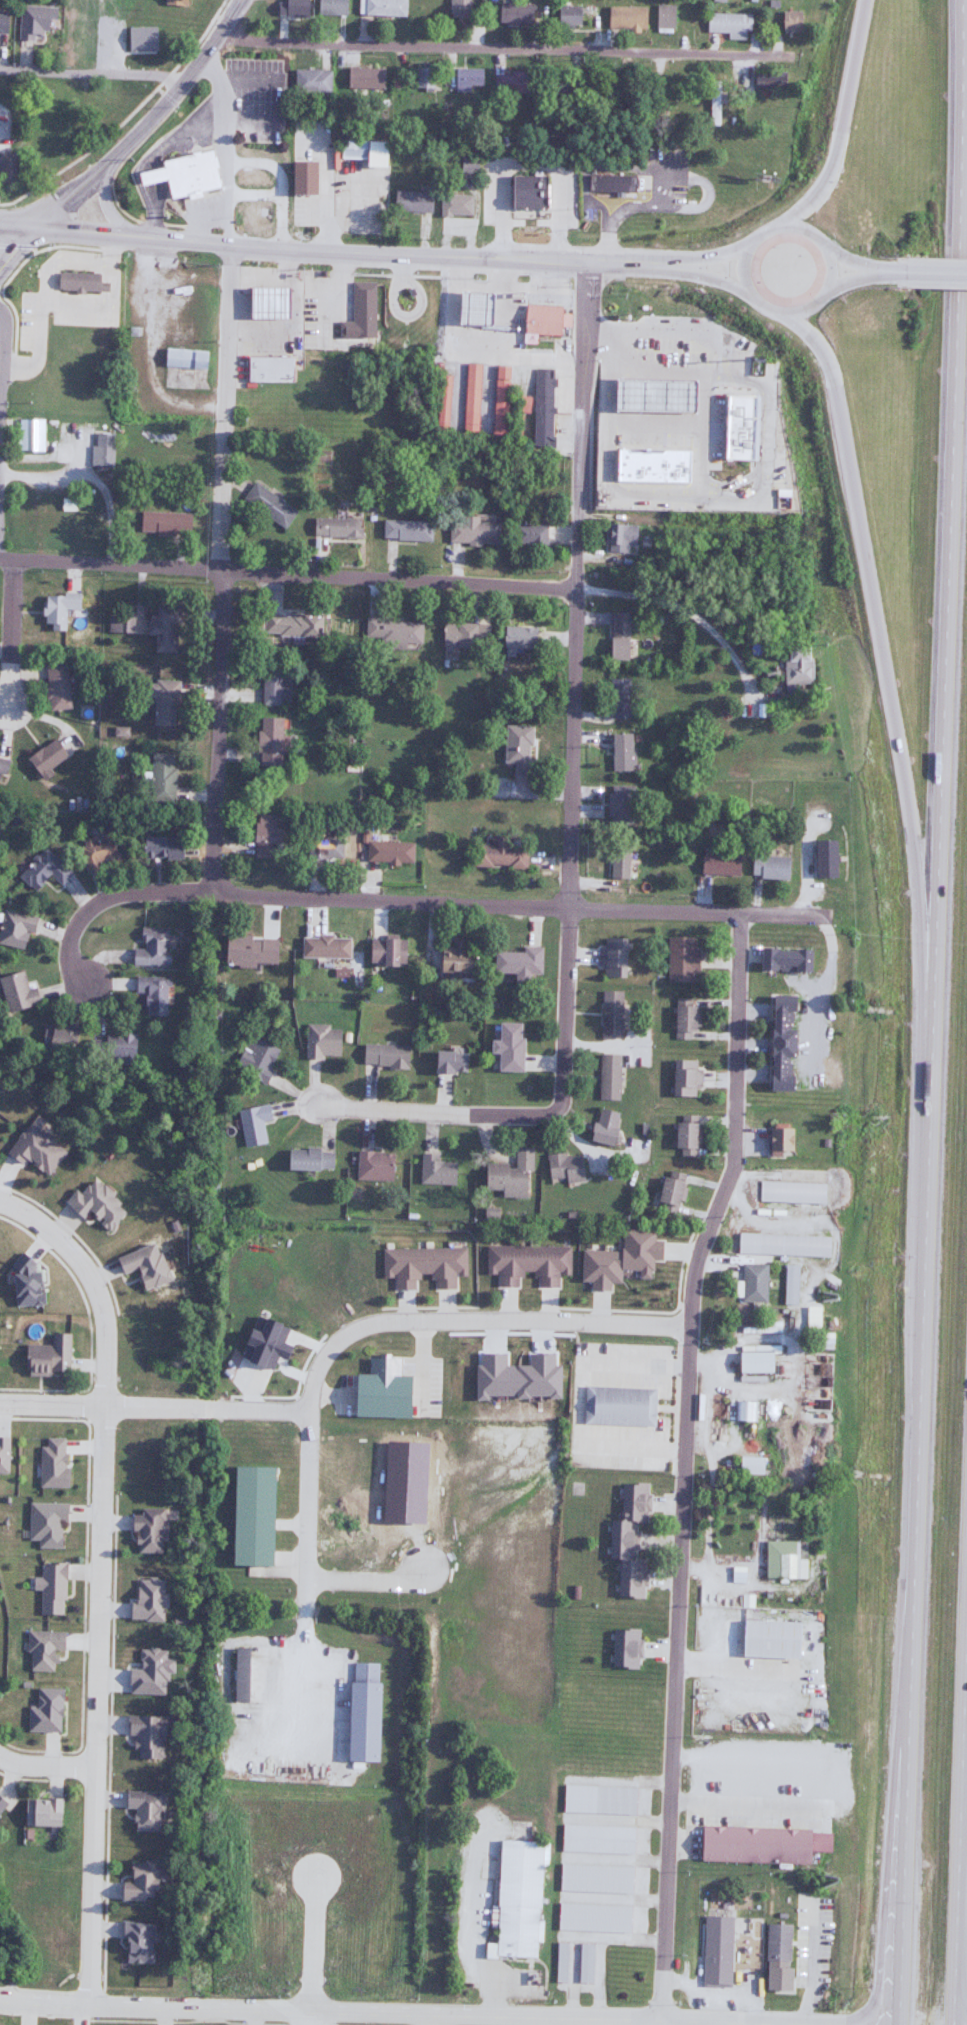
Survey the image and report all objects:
building: (174, 2)
building: (330, 7)
building: (382, 7)
building: (458, 9)
building: (514, 11)
building: (954, 14)
building: (566, 16)
building: (624, 18)
building: (664, 18)
building: (789, 21)
building: (31, 22)
building: (2, 23)
building: (728, 25)
building: (140, 39)
building: (78, 43)
road: (501, 46)
road: (92, 72)
building: (364, 78)
building: (465, 79)
building: (310, 81)
building: (763, 82)
building: (509, 84)
building: (557, 87)
parking lot: (257, 97)
building: (715, 102)
building: (676, 106)
road: (841, 117)
road: (147, 118)
road: (124, 120)
building: (46, 144)
building: (362, 150)
road: (223, 151)
road: (142, 157)
building: (467, 166)
building: (7, 168)
building: (185, 173)
building: (611, 182)
road: (277, 183)
building: (529, 191)
building: (262, 193)
road: (250, 194)
building: (411, 202)
building: (455, 206)
road: (198, 220)
road: (21, 228)
road: (721, 249)
road: (18, 250)
road: (361, 252)
road: (865, 262)
road: (713, 272)
road: (932, 274)
road: (865, 278)
building: (79, 283)
building: (264, 303)
building: (400, 303)
building: (470, 309)
gas station: (470, 309)
road: (790, 313)
gas station: (544, 319)
building: (357, 321)
building: (544, 324)
parking lot: (729, 334)
parking lot: (667, 352)
building: (184, 359)
road: (729, 359)
road: (2, 369)
building: (267, 369)
gas station: (656, 395)
building: (651, 396)
building: (469, 397)
building: (497, 400)
building: (441, 405)
building: (541, 408)
road: (651, 426)
building: (742, 426)
road: (699, 430)
building: (29, 435)
building: (164, 440)
building: (101, 450)
gas station: (653, 464)
building: (649, 466)
building: (746, 480)
road: (686, 492)
building: (267, 506)
building: (163, 524)
building: (335, 529)
building: (405, 531)
building: (470, 532)
building: (526, 535)
building: (621, 539)
road: (226, 571)
road: (285, 573)
road: (677, 608)
road: (874, 625)
building: (290, 626)
building: (163, 629)
building: (391, 631)
road: (12, 635)
building: (617, 637)
building: (463, 638)
building: (517, 642)
building: (692, 661)
building: (793, 666)
building: (271, 685)
building: (53, 686)
building: (618, 699)
building: (161, 702)
building: (267, 743)
building: (515, 752)
building: (619, 753)
building: (44, 759)
building: (2, 766)
building: (159, 778)
building: (618, 805)
road: (571, 807)
building: (266, 829)
building: (158, 846)
building: (323, 847)
building: (388, 850)
building: (96, 851)
building: (497, 854)
building: (822, 859)
building: (616, 863)
building: (718, 865)
building: (42, 868)
building: (767, 868)
road: (108, 901)
road: (521, 907)
building: (14, 928)
building: (322, 946)
building: (151, 947)
building: (247, 950)
building: (385, 950)
building: (612, 957)
building: (452, 959)
building: (680, 959)
building: (781, 959)
building: (517, 963)
building: (15, 992)
building: (152, 994)
road: (929, 1012)
building: (610, 1015)
building: (683, 1018)
building: (56, 1039)
building: (321, 1040)
building: (777, 1043)
building: (116, 1045)
building: (506, 1047)
building: (384, 1056)
building: (255, 1060)
building: (447, 1062)
building: (607, 1077)
building: (683, 1078)
building: (252, 1123)
building: (602, 1126)
building: (683, 1134)
building: (776, 1141)
building: (31, 1149)
building: (308, 1158)
building: (372, 1165)
building: (564, 1166)
building: (435, 1170)
building: (508, 1174)
building: (669, 1191)
building: (791, 1192)
building: (92, 1204)
road: (74, 1235)
building: (781, 1245)
building: (526, 1264)
building: (141, 1265)
building: (421, 1266)
building: (22, 1282)
building: (753, 1283)
building: (789, 1285)
road: (571, 1309)
road: (90, 1327)
road: (364, 1329)
building: (47, 1357)
building: (753, 1362)
building: (379, 1390)
road: (295, 1392)
building: (616, 1406)
road: (154, 1407)
building: (3, 1455)
building: (51, 1462)
road: (684, 1462)
building: (751, 1466)
building: (247, 1515)
building: (44, 1524)
building: (144, 1531)
building: (631, 1538)
building: (783, 1559)
road: (99, 1581)
road: (370, 1581)
road: (83, 1583)
building: (50, 1588)
building: (145, 1599)
building: (768, 1638)
building: (627, 1648)
building: (41, 1649)
building: (237, 1674)
road: (302, 1685)
building: (44, 1712)
building: (360, 1713)
building: (143, 1736)
road: (109, 1741)
road: (45, 1766)
road: (30, 1778)
building: (598, 1800)
building: (0, 1805)
building: (143, 1810)
building: (41, 1813)
building: (596, 1839)
building: (759, 1845)
road: (962, 1876)
building: (594, 1878)
building: (138, 1883)
building: (518, 1899)
building: (592, 1917)
building: (776, 1942)
building: (135, 1943)
building: (715, 1951)
building: (562, 1963)
building: (584, 1964)
road: (35, 1989)
road: (86, 1990)
road: (330, 2010)
road: (309, 2017)
road: (147, 2021)
road: (716, 2021)
road: (687, 2022)
road: (312, 2024)

